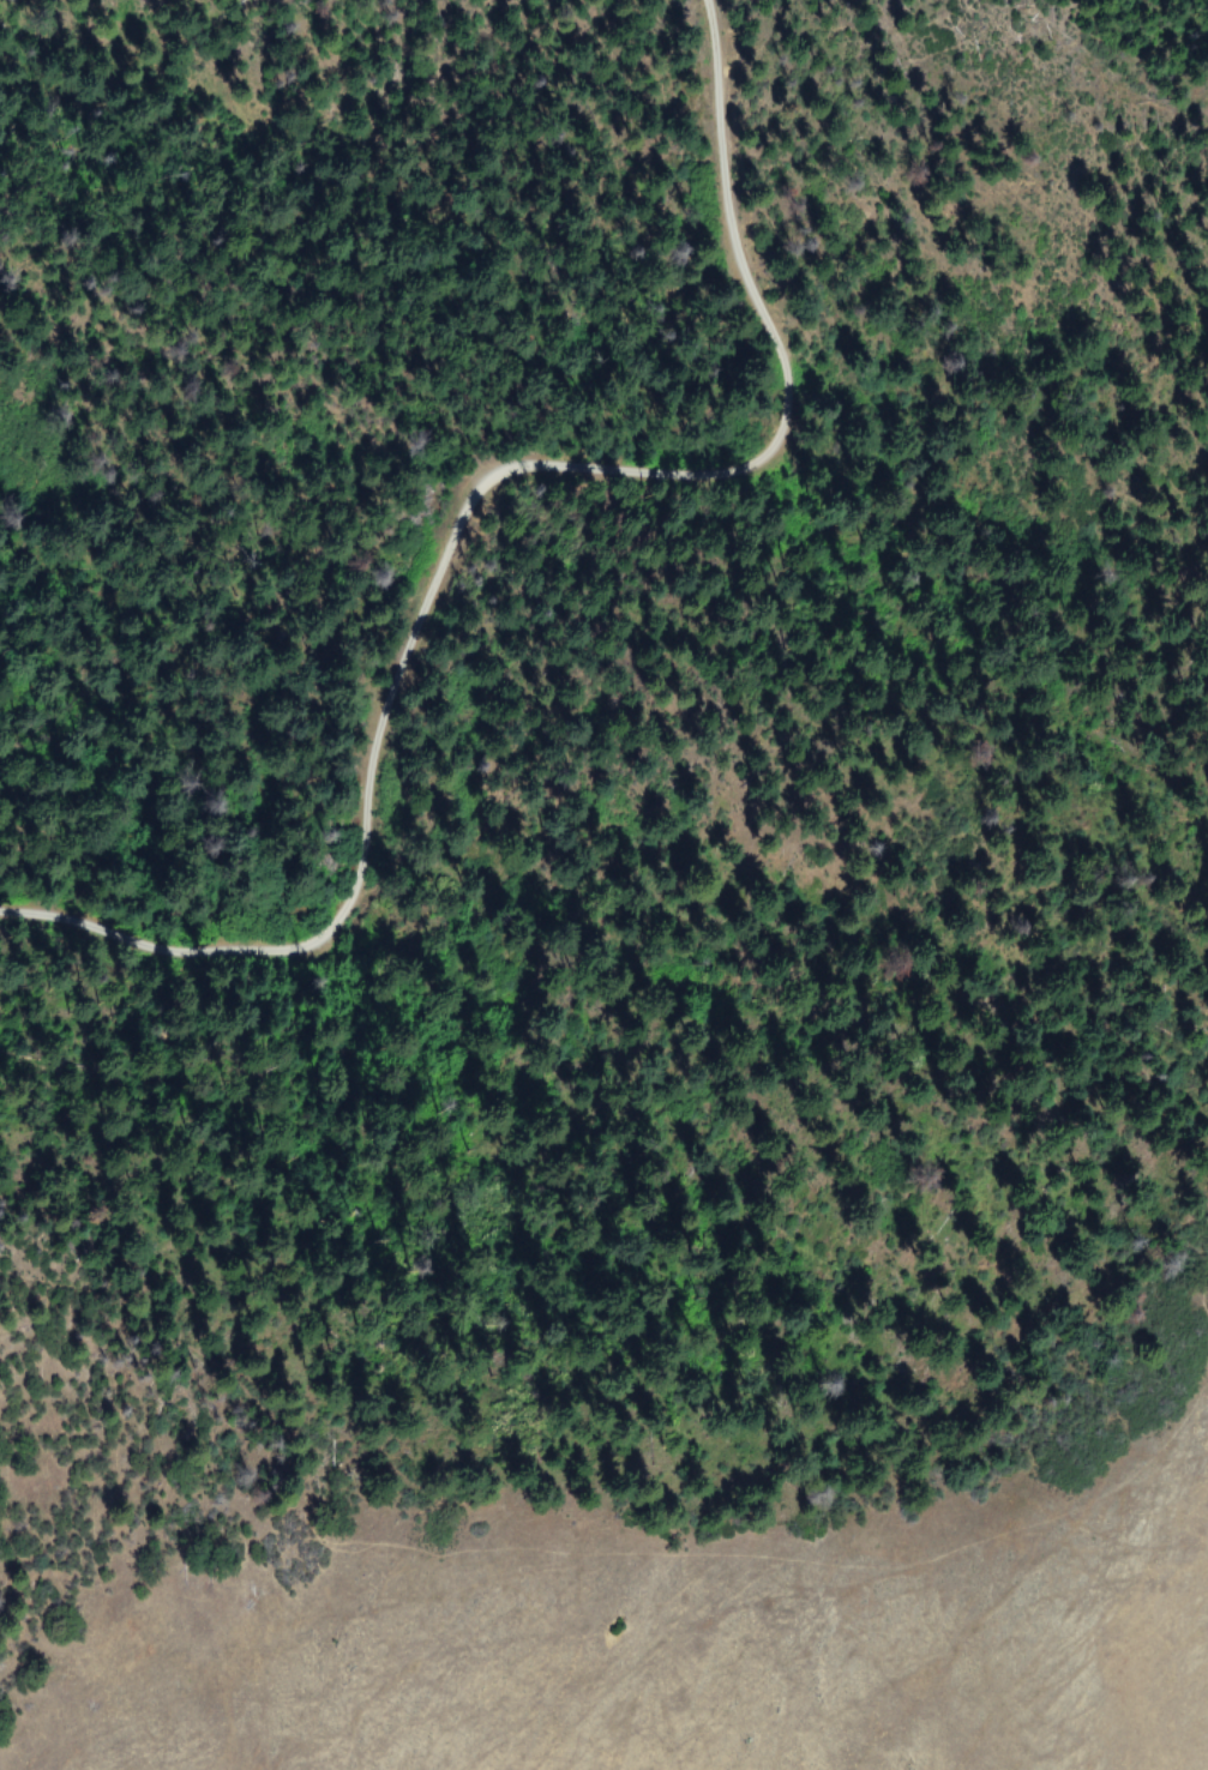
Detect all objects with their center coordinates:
road: (457, 486)

